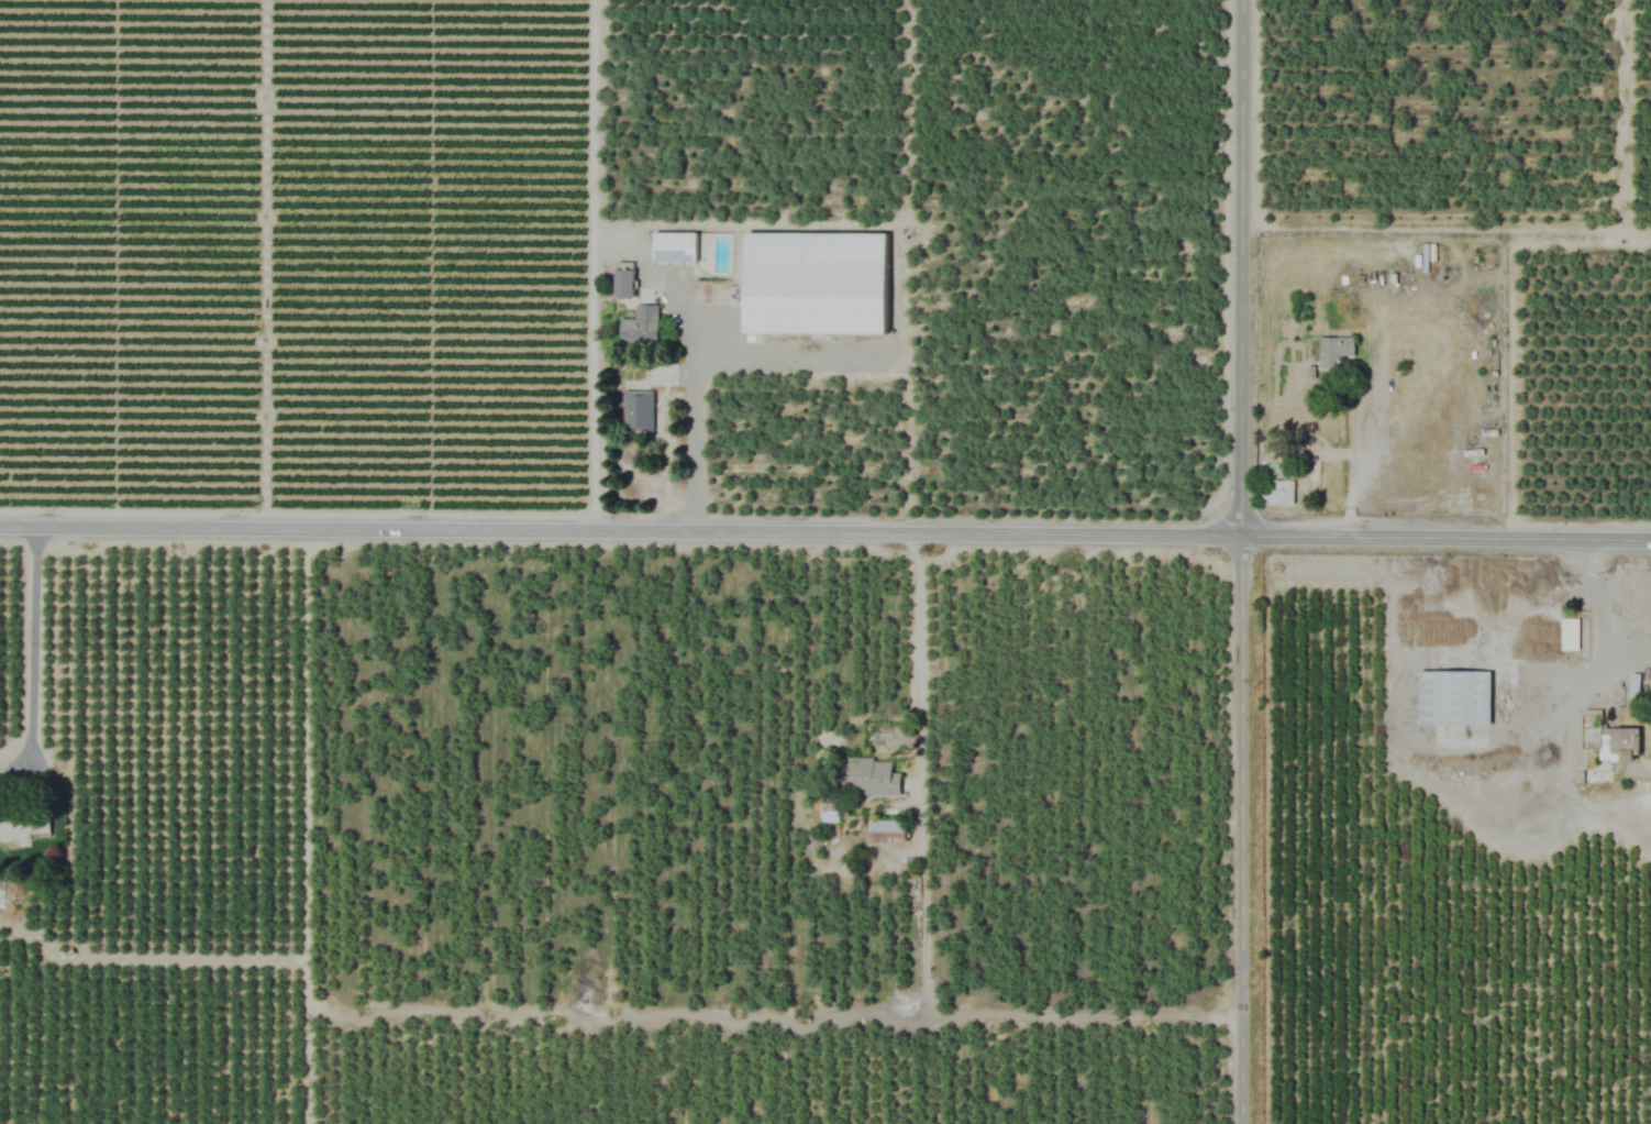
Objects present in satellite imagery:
building: (674, 247)
road: (590, 264)
building: (624, 284)
building: (816, 284)
building: (641, 328)
building: (1333, 351)
building: (636, 410)
road: (691, 418)
building: (1278, 493)
road: (825, 530)
road: (1239, 561)
building: (1569, 633)
road: (31, 658)
road: (915, 674)
building: (1454, 697)
building: (1589, 735)
building: (1620, 743)
building: (867, 776)
building: (24, 824)

